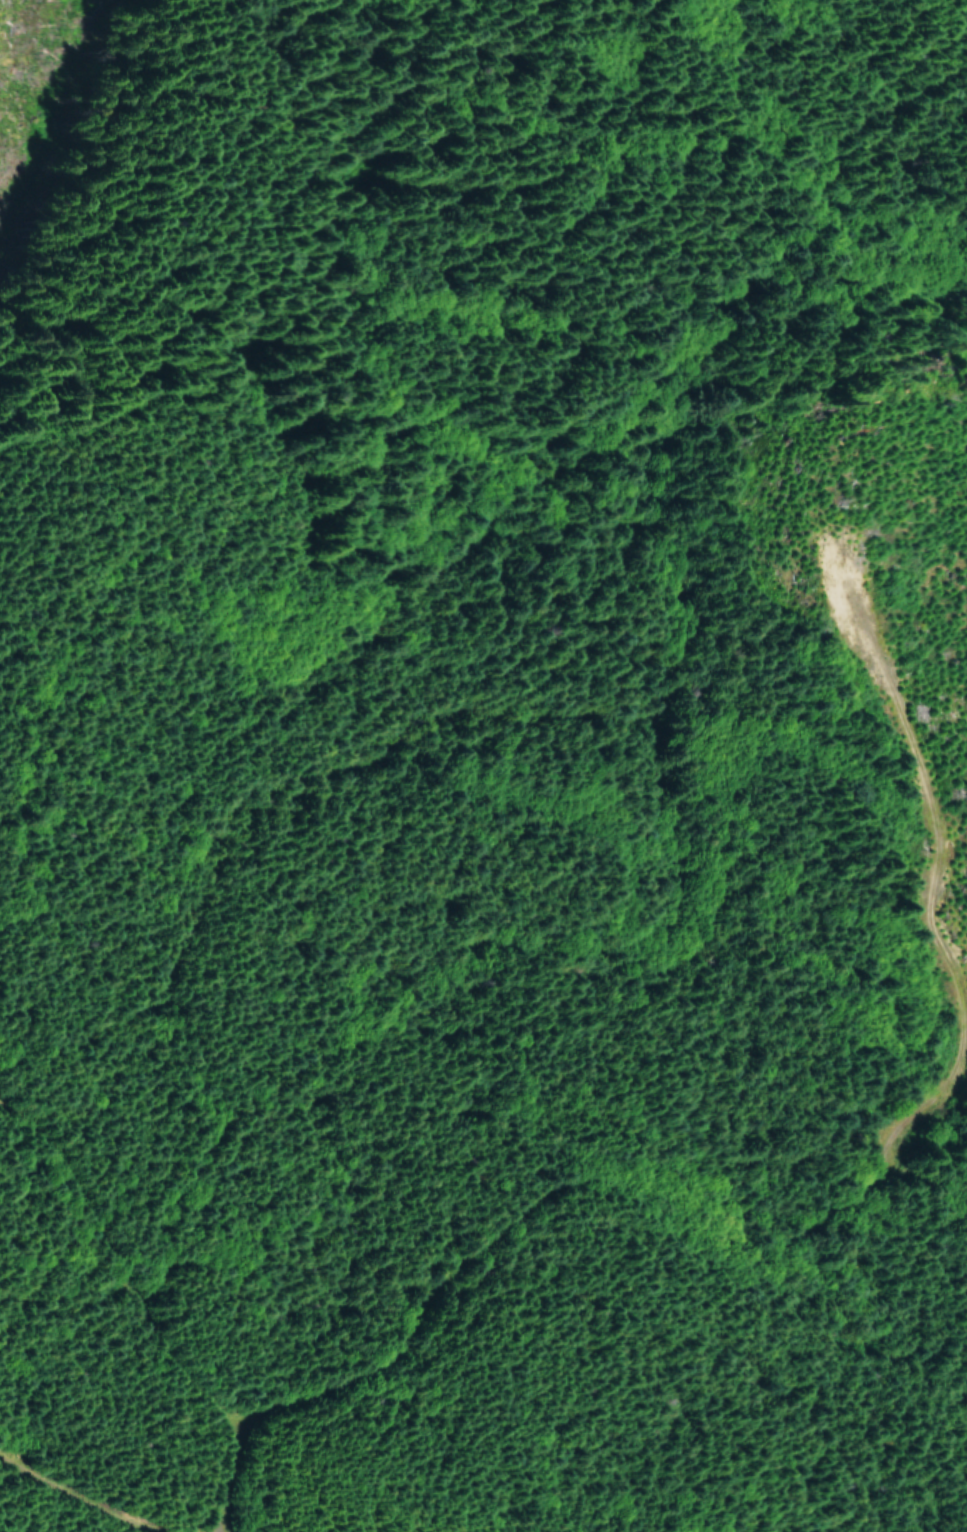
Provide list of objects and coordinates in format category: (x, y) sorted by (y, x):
road: (133, 568)
road: (202, 1438)

